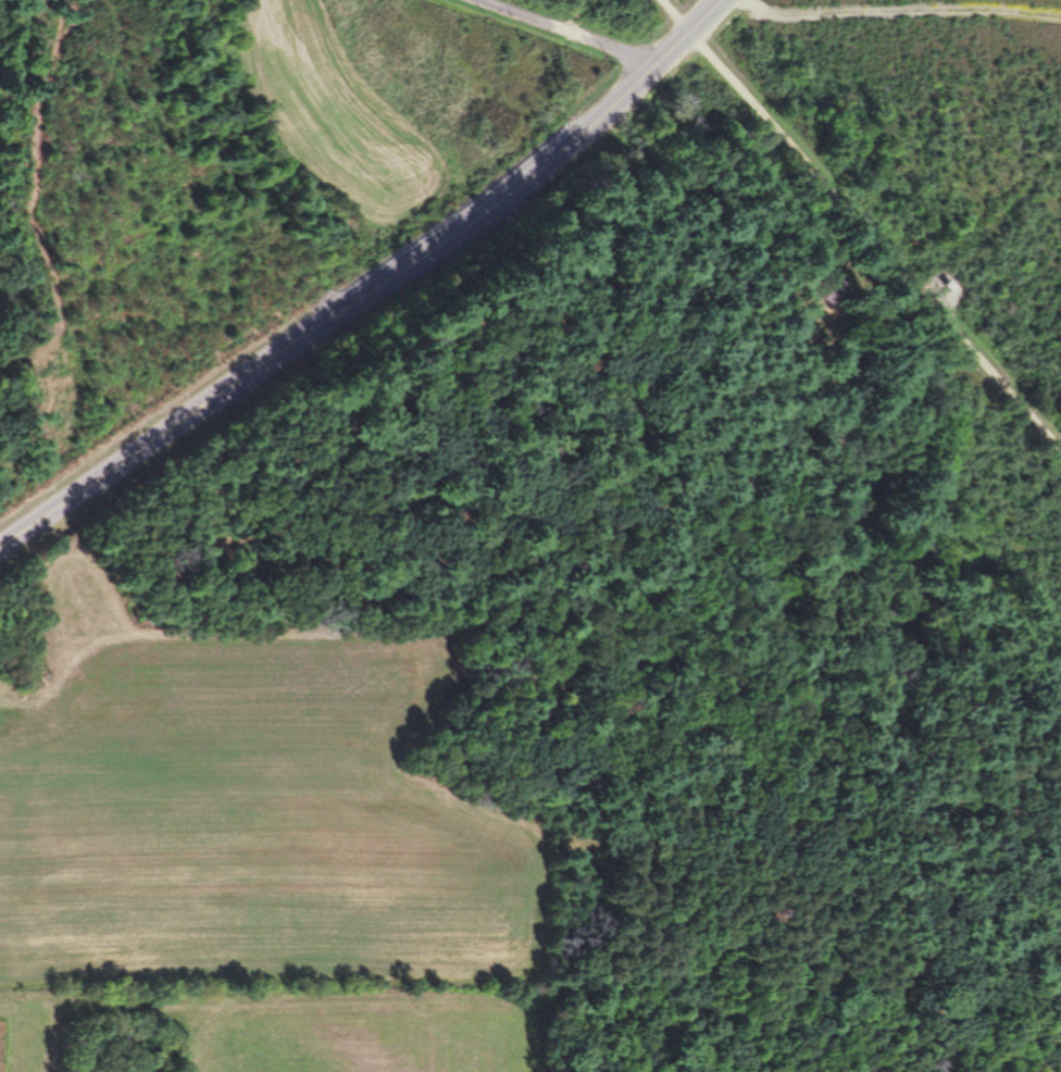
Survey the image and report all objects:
road: (675, 16)
road: (876, 238)
road: (372, 289)

